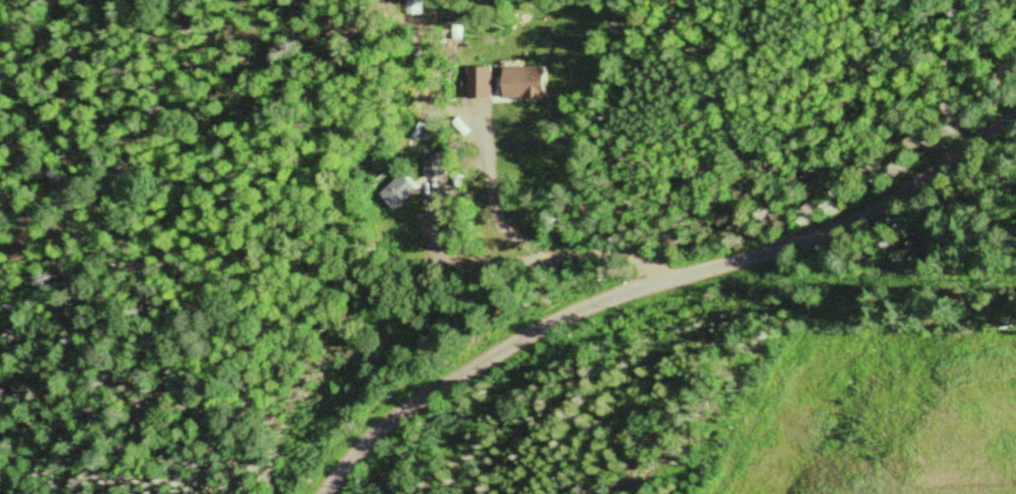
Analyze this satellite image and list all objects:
building: (430, 167)
road: (657, 275)

